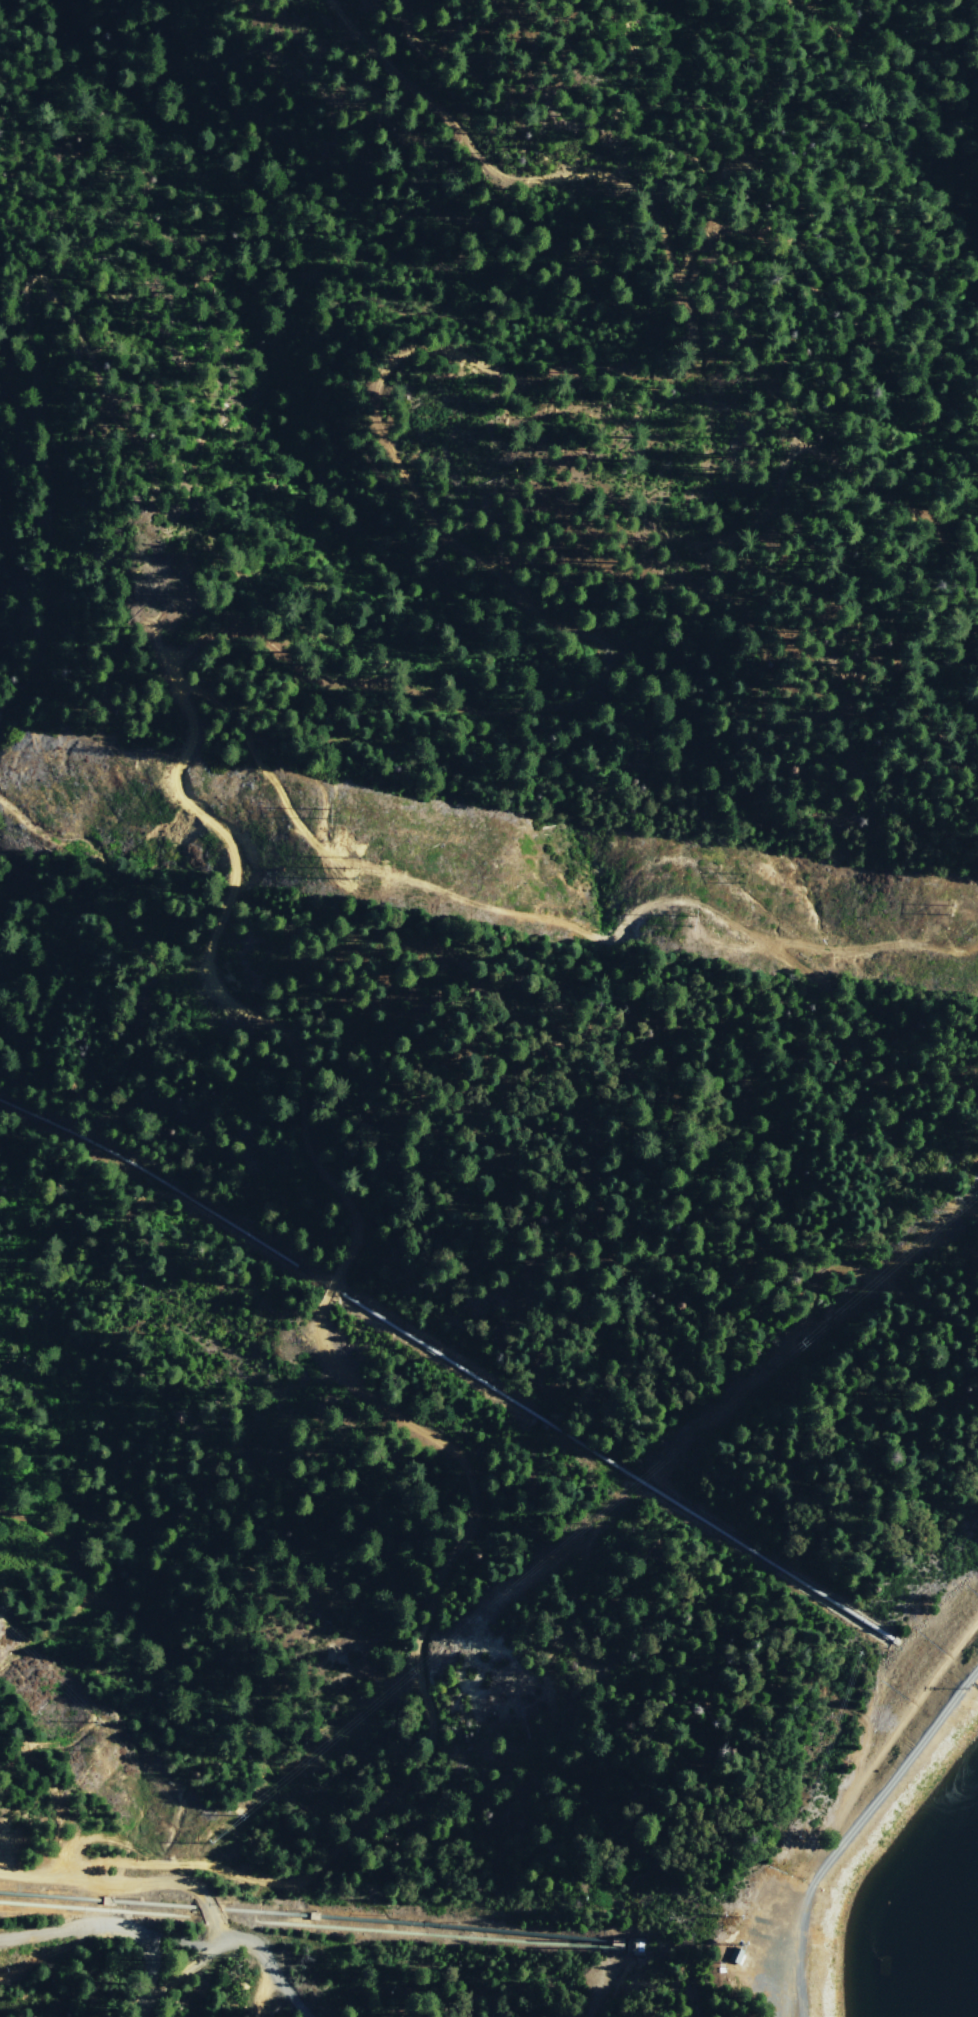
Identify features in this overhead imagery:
power tower: (330, 812)
power tower: (358, 867)
power tower: (740, 875)
power tower: (948, 908)
power tower: (685, 917)
dam: (878, 1776)
road: (842, 1820)
road: (161, 1882)
road: (103, 1926)
road: (232, 1938)
road: (174, 1940)
road: (47, 1956)
road: (586, 1993)
road: (263, 1994)
road: (139, 2009)

